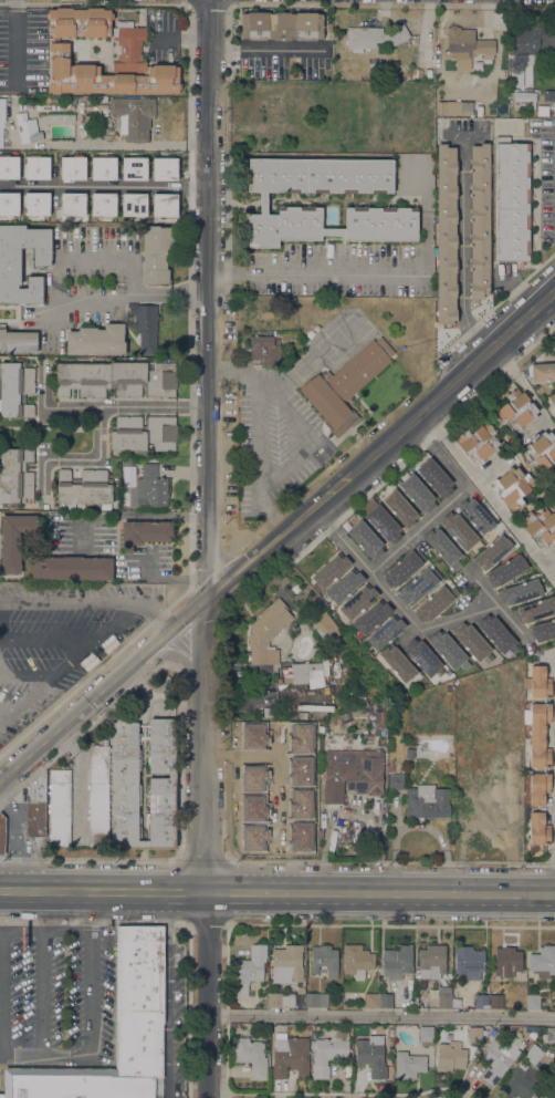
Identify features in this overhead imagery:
building: (78, 22)
building: (281, 25)
building: (328, 27)
building: (374, 37)
building: (528, 42)
building: (465, 46)
building: (423, 58)
building: (113, 69)
building: (515, 75)
building: (101, 97)
building: (521, 101)
building: (454, 107)
building: (133, 116)
building: (2, 117)
building: (60, 117)
building: (111, 126)
building: (27, 128)
building: (8, 167)
building: (35, 167)
building: (71, 168)
building: (102, 168)
building: (133, 168)
building: (164, 168)
road: (100, 185)
building: (263, 199)
building: (512, 200)
building: (8, 203)
building: (35, 204)
building: (72, 204)
building: (102, 204)
building: (133, 204)
building: (164, 204)
building: (479, 221)
building: (446, 234)
building: (156, 253)
road: (462, 255)
building: (10, 262)
road: (311, 273)
road: (134, 276)
road: (73, 310)
building: (145, 327)
building: (96, 340)
building: (17, 341)
building: (264, 350)
building: (554, 351)
building: (541, 372)
building: (116, 379)
building: (344, 385)
road: (524, 386)
building: (15, 390)
building: (552, 400)
road: (100, 406)
building: (515, 411)
road: (256, 425)
building: (143, 433)
road: (290, 435)
building: (478, 443)
road: (198, 446)
building: (541, 452)
road: (77, 458)
building: (17, 476)
building: (434, 477)
building: (512, 487)
building: (84, 488)
building: (148, 489)
building: (417, 494)
road: (489, 495)
road: (450, 498)
building: (553, 498)
building: (554, 507)
building: (400, 508)
building: (475, 515)
road: (130, 517)
building: (383, 524)
building: (540, 527)
road: (276, 530)
building: (459, 530)
building: (144, 532)
building: (14, 539)
building: (365, 540)
building: (443, 548)
building: (492, 552)
building: (71, 568)
building: (402, 568)
building: (329, 570)
building: (506, 570)
building: (344, 586)
road: (481, 586)
building: (418, 587)
building: (521, 591)
building: (357, 601)
building: (433, 604)
building: (535, 610)
road: (128, 613)
building: (371, 617)
road: (404, 617)
building: (321, 630)
building: (543, 630)
building: (385, 632)
building: (266, 633)
building: (495, 633)
road: (48, 639)
parking lot: (59, 640)
road: (3, 641)
building: (471, 641)
building: (448, 651)
building: (422, 656)
building: (397, 662)
building: (307, 671)
building: (538, 682)
road: (46, 684)
building: (280, 685)
building: (362, 700)
building: (268, 712)
building: (301, 715)
building: (380, 726)
building: (538, 735)
building: (408, 753)
building: (515, 758)
building: (390, 768)
building: (356, 769)
building: (478, 775)
building: (395, 781)
building: (161, 783)
building: (538, 788)
building: (333, 791)
building: (97, 795)
building: (493, 801)
building: (426, 802)
building: (269, 805)
building: (59, 807)
building: (35, 808)
building: (537, 829)
building: (1, 835)
road: (554, 885)
road: (277, 892)
road: (65, 931)
building: (324, 960)
building: (356, 960)
building: (397, 961)
building: (506, 961)
building: (431, 962)
building: (468, 962)
building: (543, 962)
building: (286, 964)
building: (249, 968)
road: (43, 972)
road: (2, 993)
road: (168, 995)
road: (210, 995)
building: (443, 997)
building: (281, 999)
building: (316, 999)
building: (370, 999)
building: (385, 1001)
building: (480, 1001)
building: (495, 1001)
building: (532, 1002)
road: (383, 1015)
road: (87, 1016)
building: (504, 1027)
building: (305, 1028)
building: (115, 1033)
building: (389, 1033)
building: (426, 1034)
building: (474, 1034)
building: (551, 1035)
building: (328, 1052)
building: (533, 1054)
building: (290, 1055)
building: (371, 1055)
building: (251, 1056)
building: (450, 1056)
building: (499, 1059)
building: (408, 1065)
building: (521, 1080)
building: (546, 1097)

